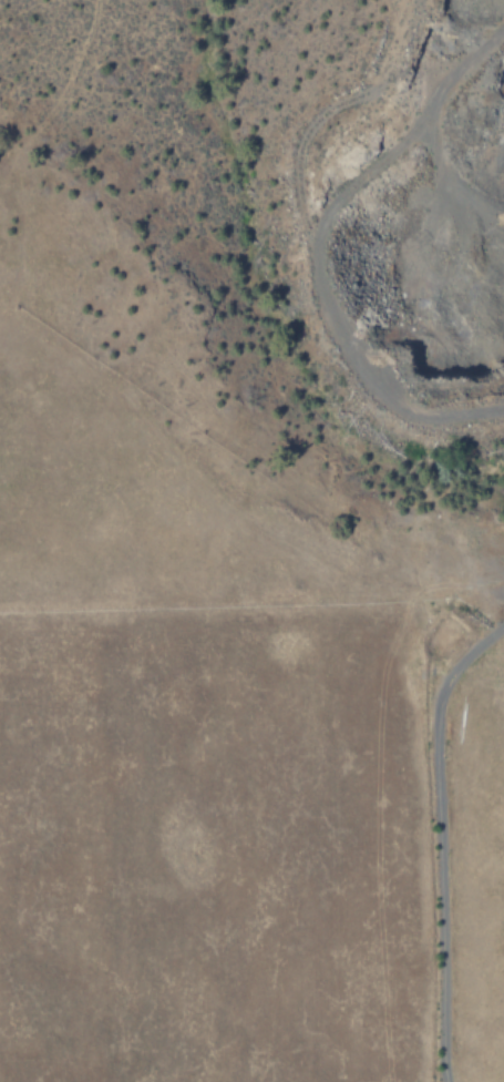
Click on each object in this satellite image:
quarry: (404, 216)
quarry: (488, 626)
crop: (224, 742)
road: (438, 838)

